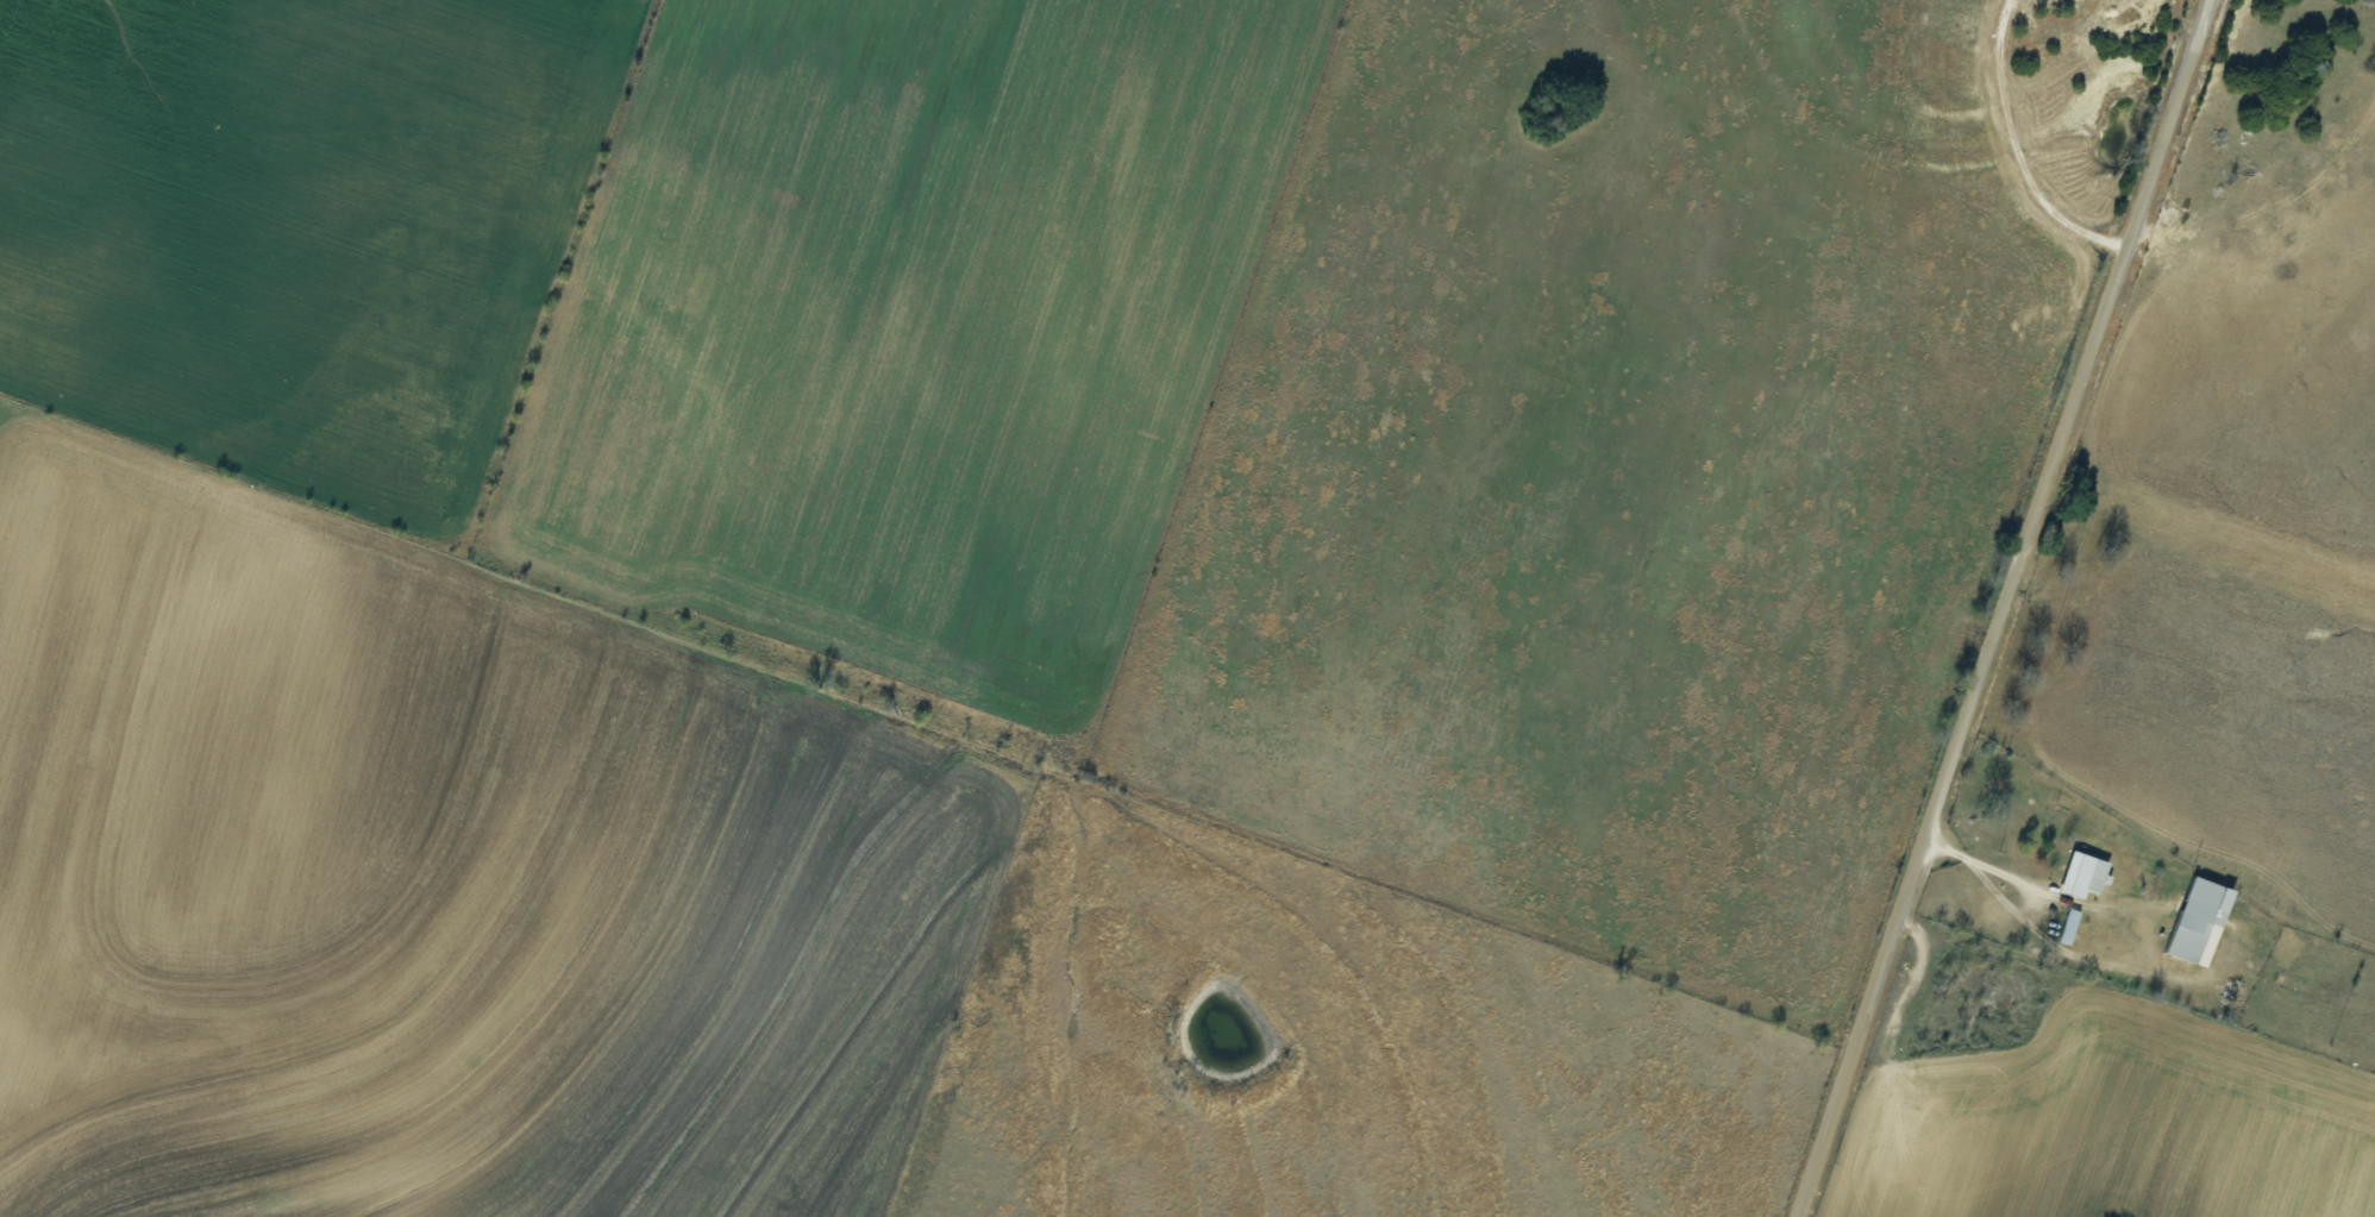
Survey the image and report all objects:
road: (2292, 90)
road: (2024, 608)
building: (2082, 873)
building: (2198, 921)
building: (2068, 924)

